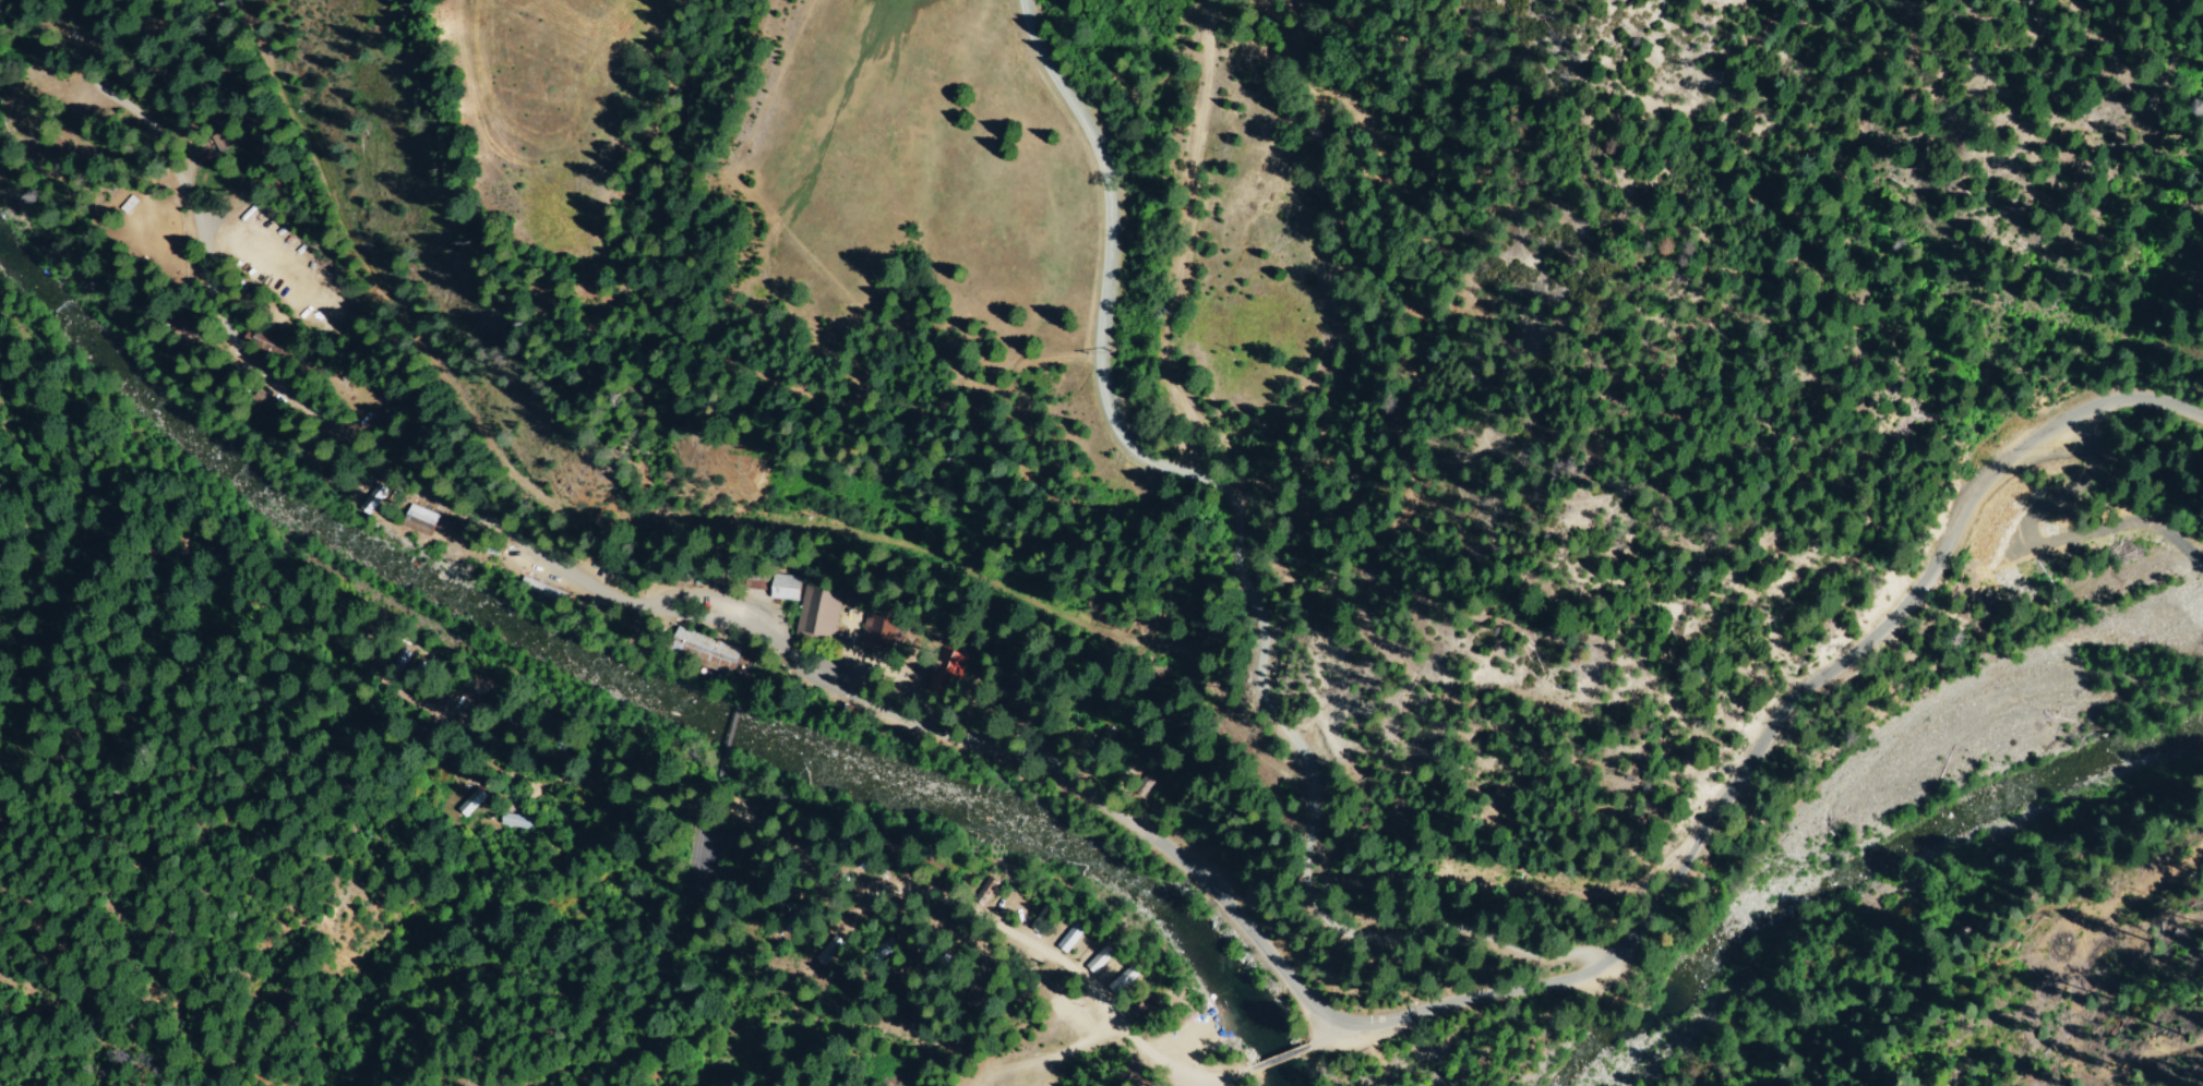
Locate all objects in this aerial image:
road: (1210, 16)
building: (271, 343)
road: (1245, 569)
building: (786, 586)
building: (819, 608)
building: (883, 628)
road: (747, 636)
building: (703, 650)
building: (946, 671)
river: (638, 680)
road: (737, 721)
road: (718, 796)
road: (703, 804)
building: (514, 820)
road: (1126, 826)
river: (1878, 857)
park: (704, 862)
building: (1093, 961)
road: (1318, 1034)
road: (1278, 1061)
road: (1199, 1081)

